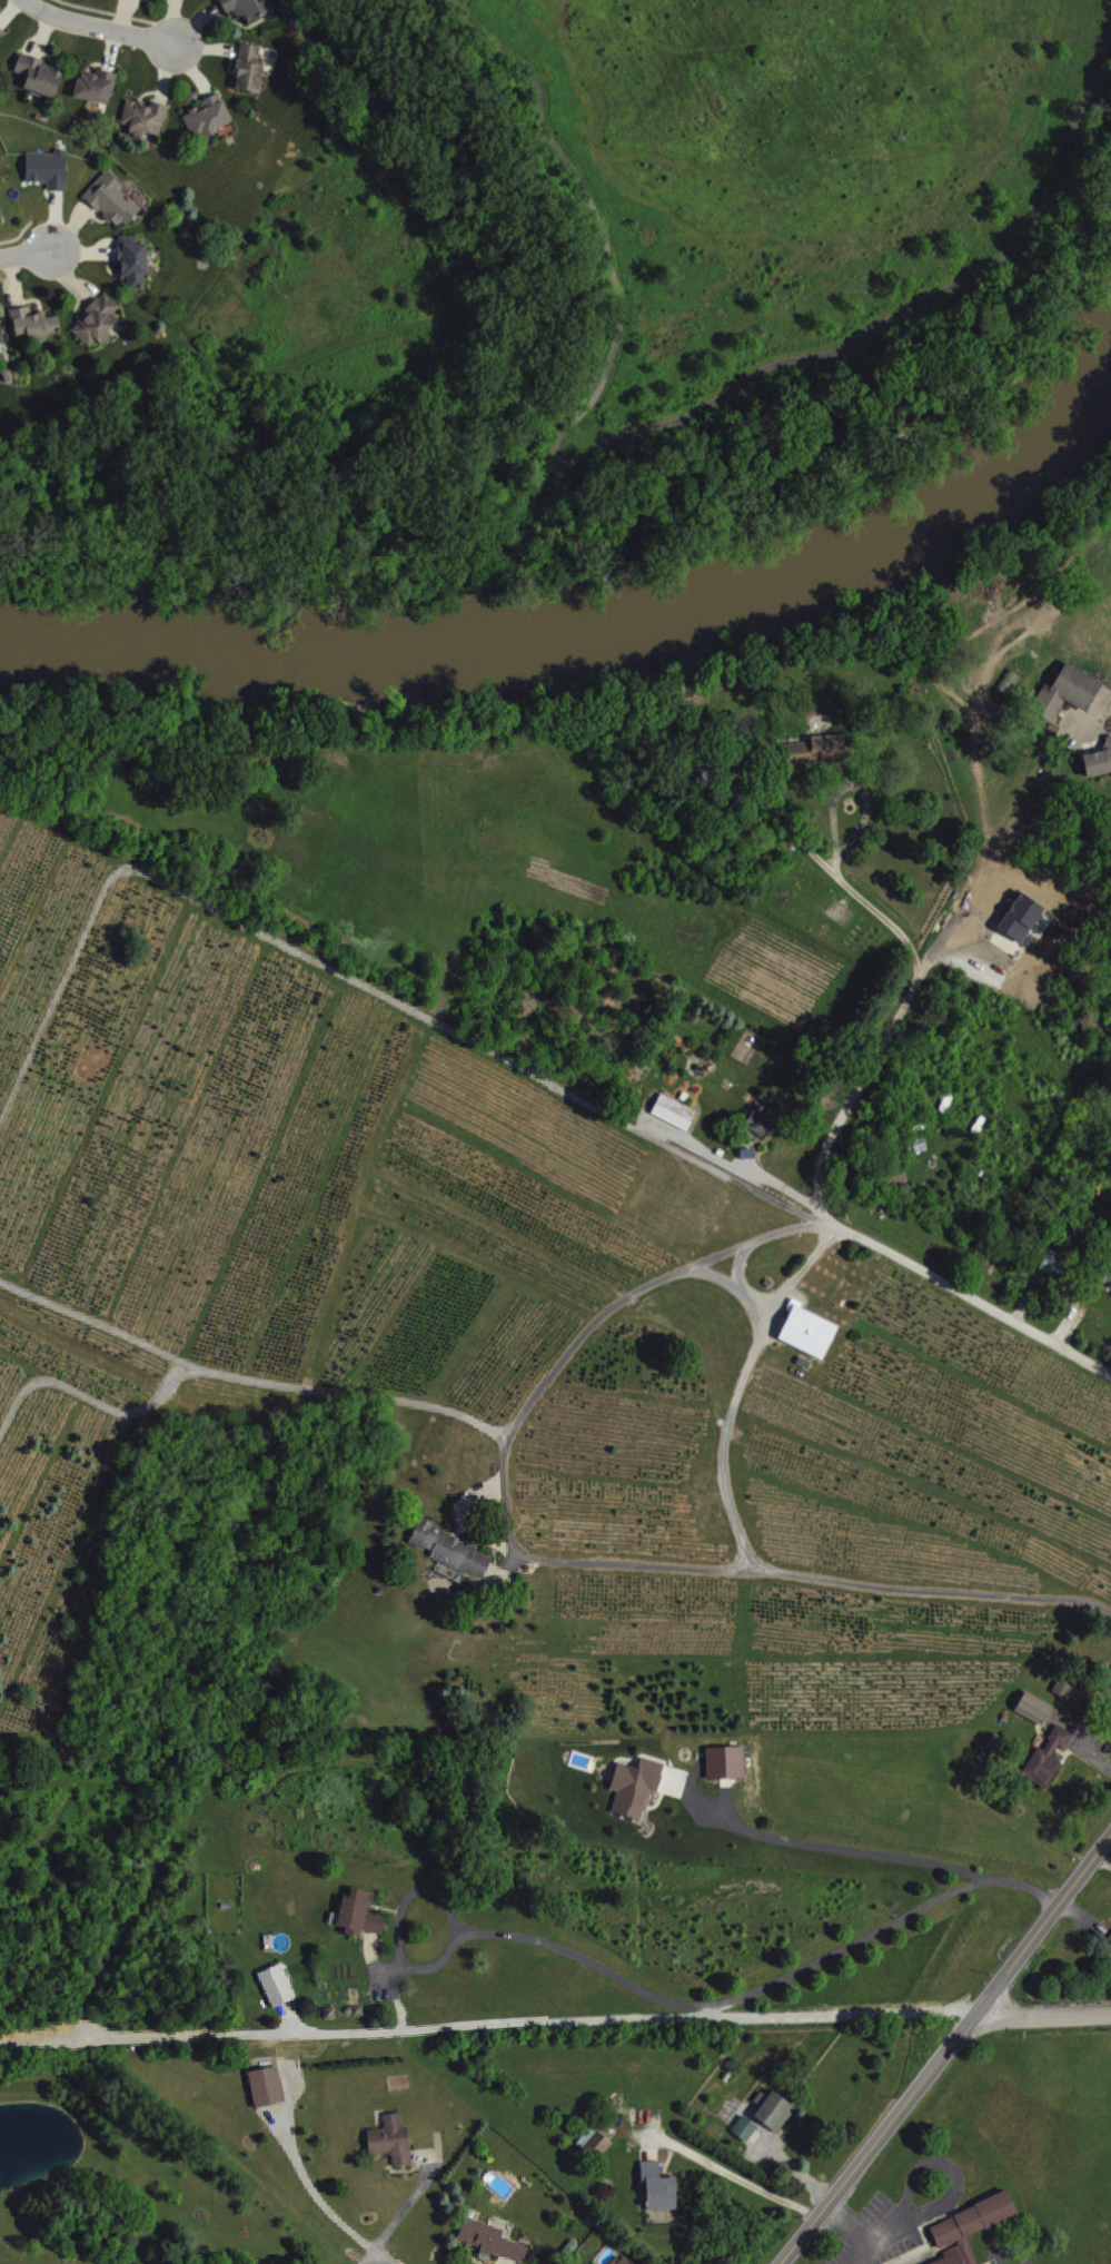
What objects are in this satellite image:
building: (245, 7)
road: (8, 9)
road: (108, 11)
road: (222, 13)
road: (121, 14)
road: (1, 16)
road: (171, 19)
road: (197, 19)
road: (102, 24)
building: (1, 30)
road: (40, 33)
road: (210, 47)
road: (110, 48)
road: (46, 53)
road: (95, 61)
road: (227, 61)
building: (247, 67)
road: (162, 69)
road: (191, 69)
building: (37, 72)
building: (93, 82)
road: (147, 90)
road: (194, 95)
building: (142, 113)
building: (205, 113)
building: (46, 166)
road: (44, 191)
building: (109, 197)
building: (0, 212)
road: (92, 214)
road: (52, 220)
road: (69, 227)
road: (17, 234)
road: (82, 250)
road: (26, 257)
building: (130, 258)
road: (107, 264)
road: (68, 278)
road: (11, 281)
road: (30, 298)
road: (75, 303)
building: (95, 318)
building: (31, 320)
building: (1, 334)
road: (657, 423)
river: (603, 629)
building: (1069, 691)
road: (1109, 703)
building: (823, 749)
building: (1099, 760)
road: (274, 937)
building: (676, 1110)
building: (762, 1119)
road: (817, 1164)
road: (755, 1186)
road: (738, 1263)
building: (1055, 1263)
building: (1109, 1279)
road: (733, 1282)
building: (810, 1329)
road: (249, 1378)
road: (741, 1385)
road: (90, 1400)
building: (453, 1551)
road: (553, 1559)
building: (1067, 1687)
building: (1035, 1707)
building: (1050, 1758)
building: (727, 1761)
building: (638, 1786)
road: (842, 1850)
building: (363, 1915)
road: (873, 1930)
road: (529, 1938)
building: (1110, 1940)
building: (279, 1986)
road: (1041, 2013)
road: (633, 2019)
road: (945, 2048)
building: (269, 2088)
building: (775, 2109)
building: (746, 2127)
building: (394, 2142)
building: (597, 2142)
road: (735, 2175)
building: (661, 2186)
road: (317, 2197)
road: (407, 2206)
building: (971, 2227)
road: (855, 2228)
building: (495, 2242)
road: (378, 2258)
building: (624, 2260)

